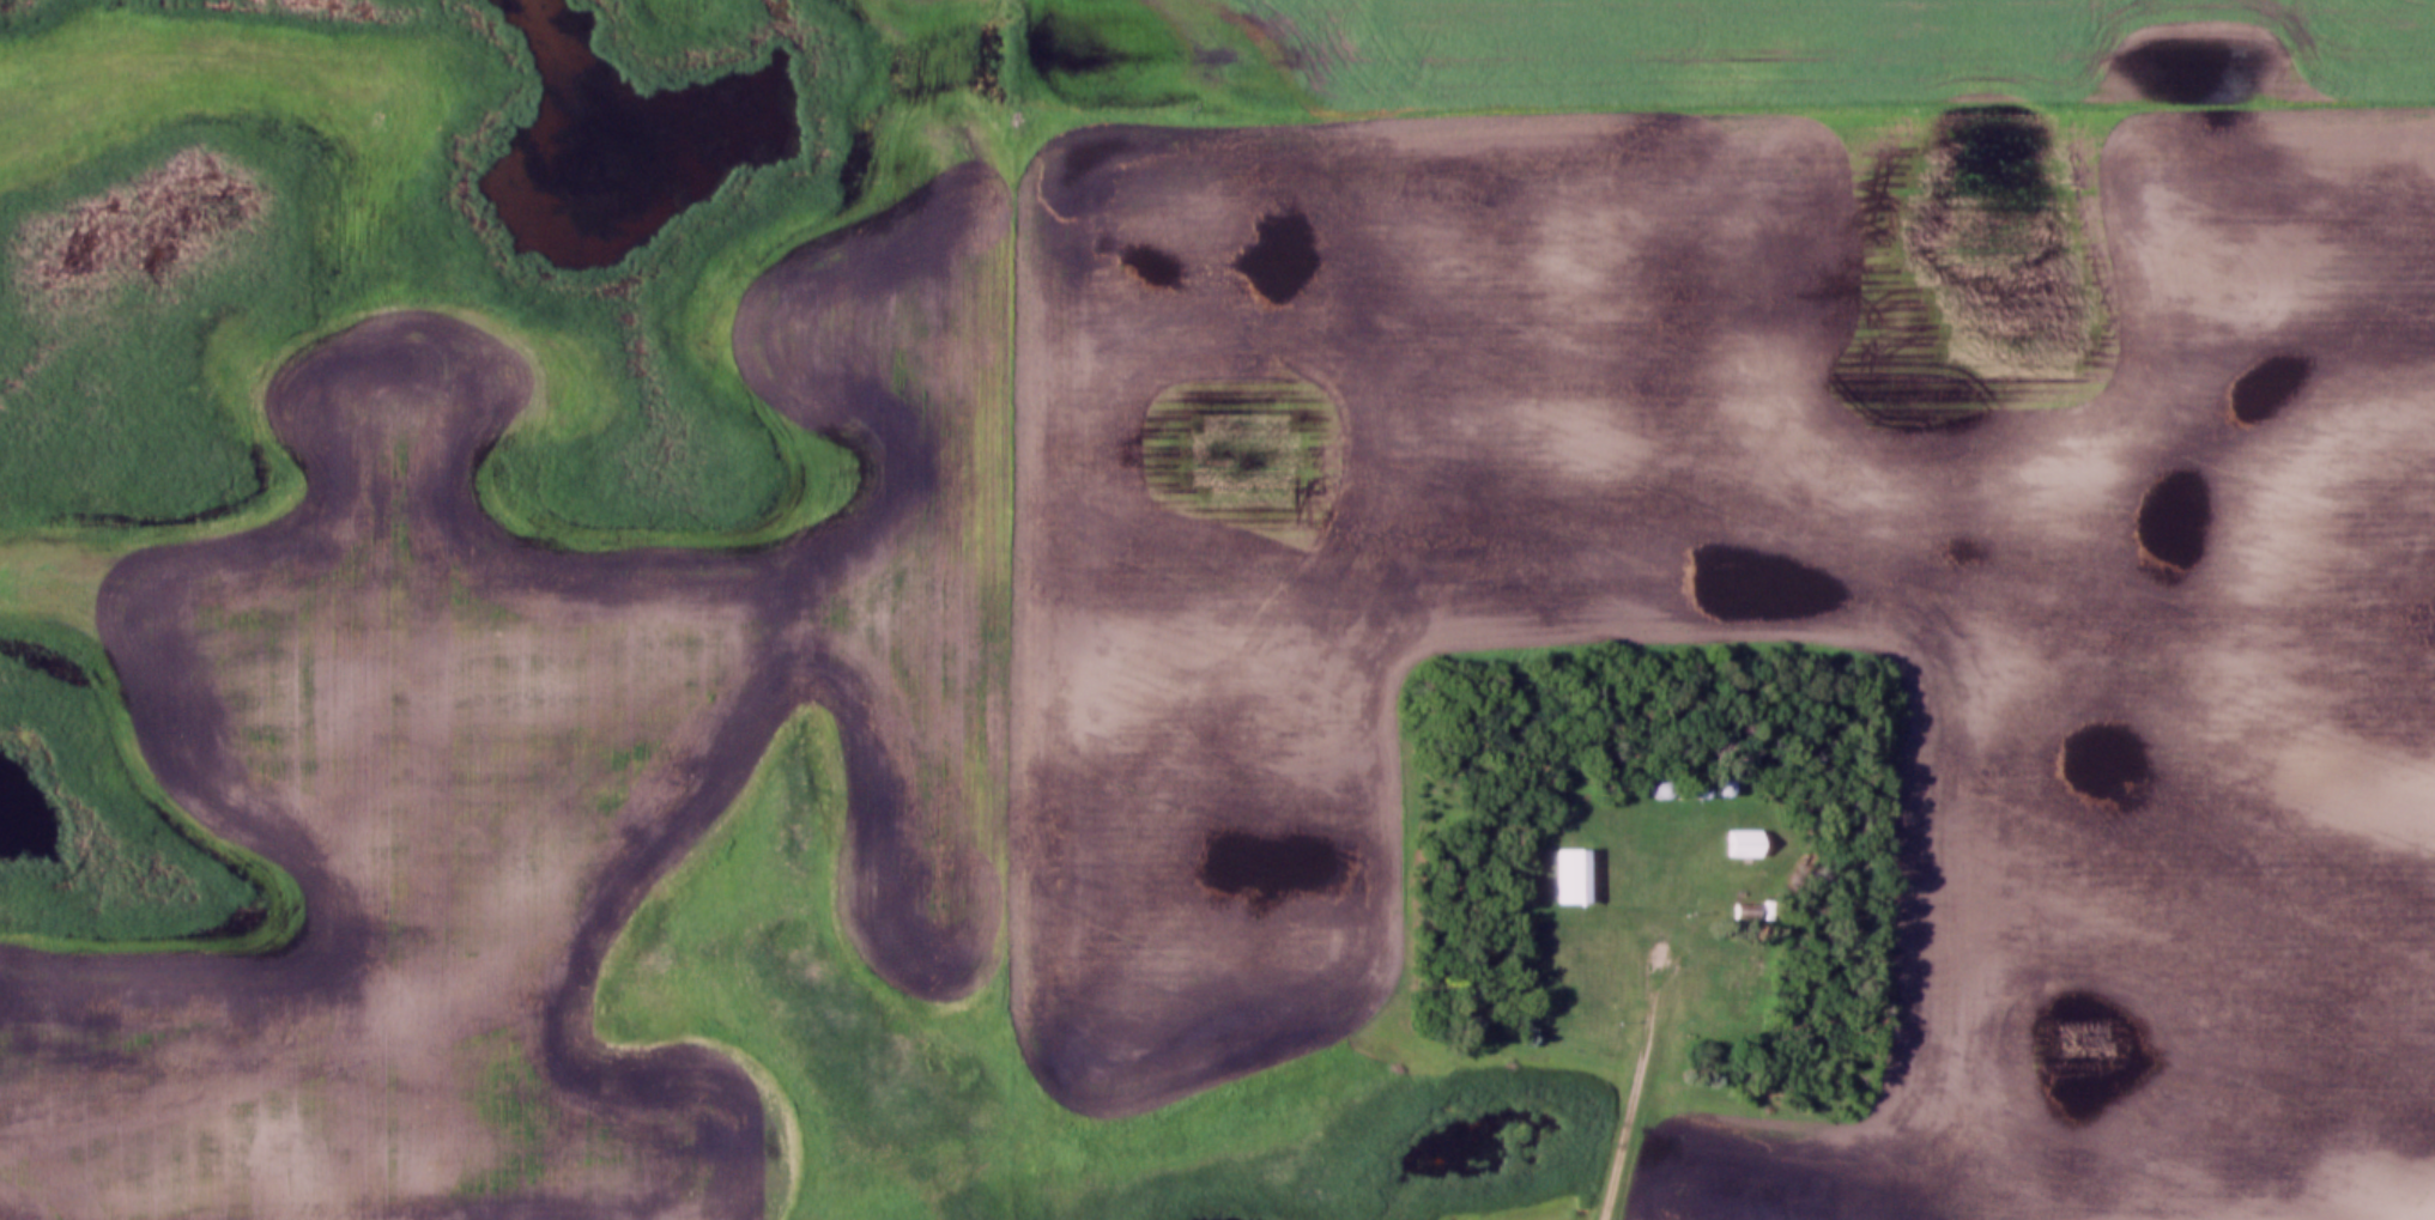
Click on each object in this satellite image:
building: (2098, 4)
building: (1742, 844)
building: (1577, 878)
building: (1750, 989)
road: (1640, 1078)

